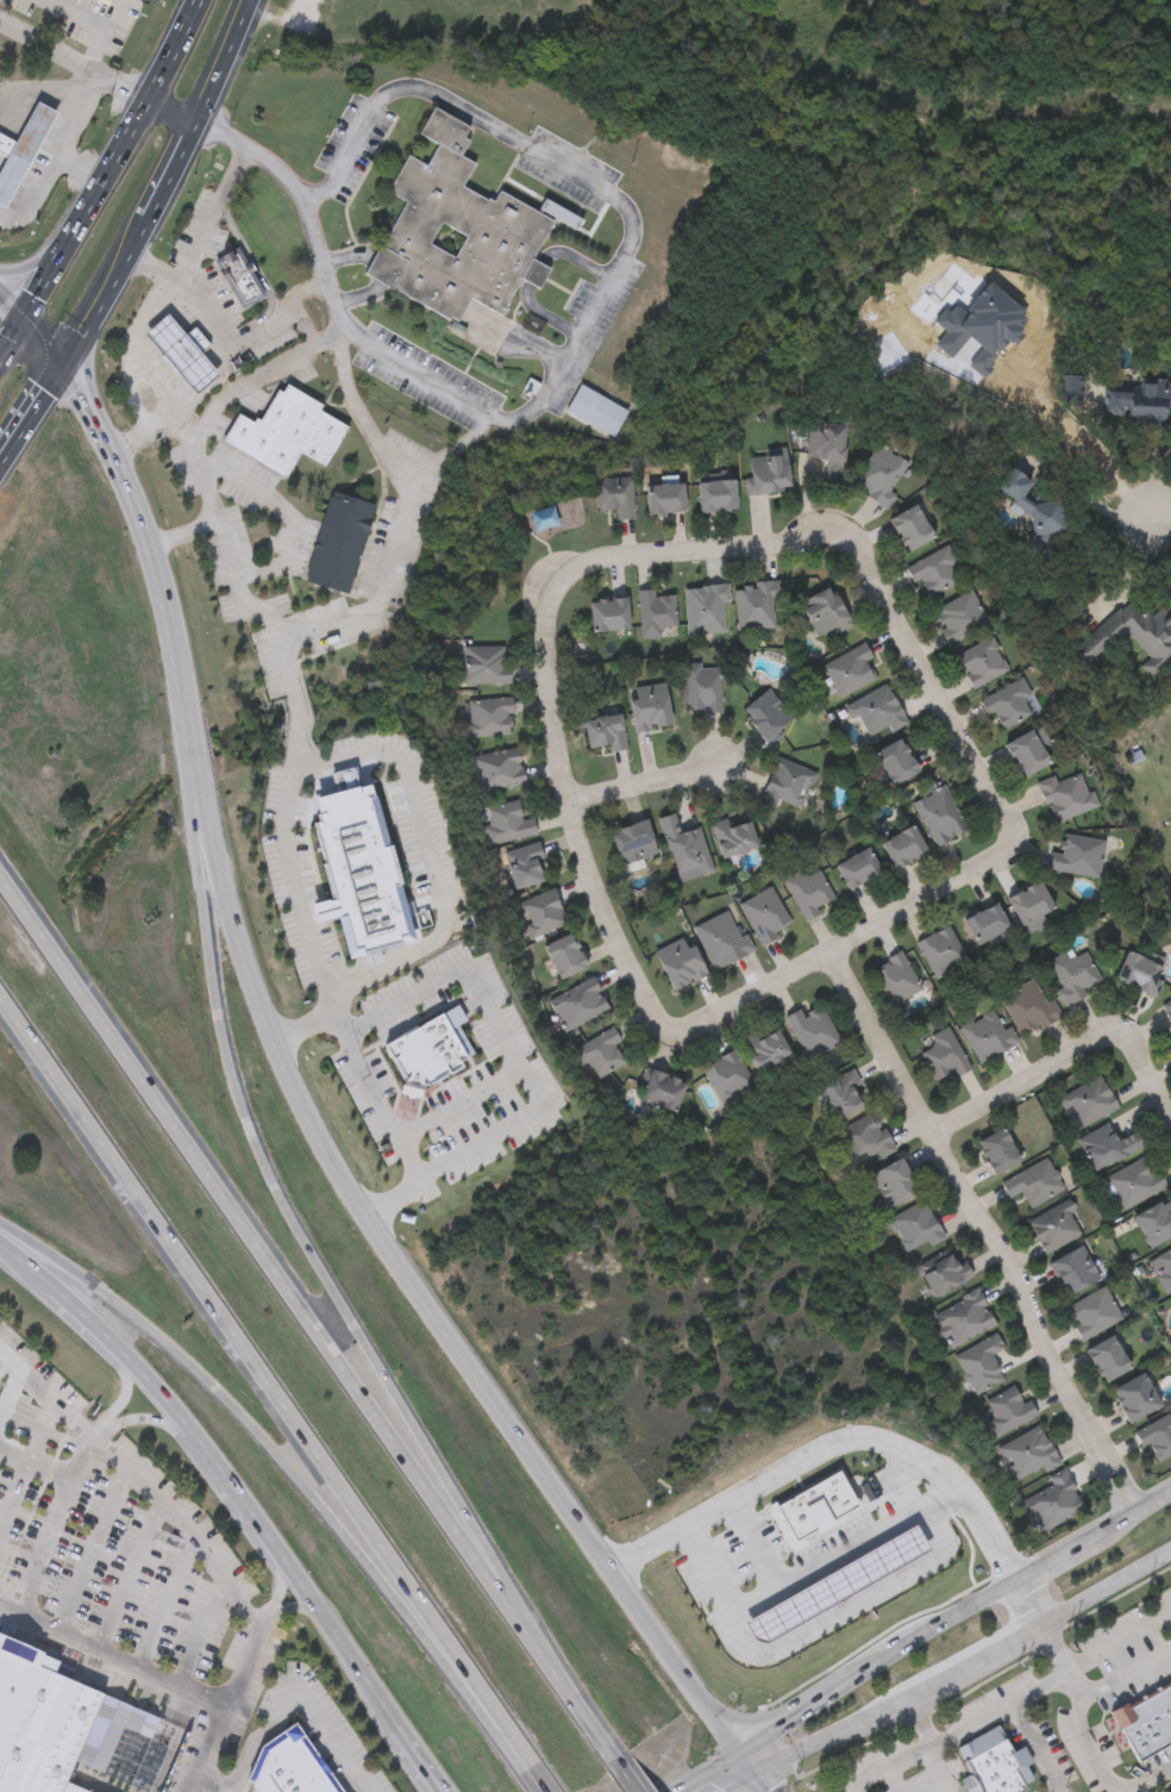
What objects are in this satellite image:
building: (421, 0)
building: (102, 1)
road: (98, 65)
road: (38, 96)
road: (68, 137)
building: (10, 151)
building: (23, 154)
gas station: (23, 154)
road: (112, 161)
road: (159, 185)
road: (32, 199)
building: (565, 218)
road: (632, 224)
building: (456, 231)
road: (38, 260)
building: (239, 275)
road: (11, 304)
traffic signals: (23, 318)
road: (223, 333)
road: (11, 335)
building: (183, 350)
traffic signals: (61, 363)
road: (86, 368)
road: (252, 374)
building: (1136, 401)
road: (30, 408)
building: (597, 412)
building: (287, 431)
road: (143, 433)
building: (827, 445)
road: (120, 467)
building: (766, 470)
building: (879, 472)
building: (614, 493)
building: (716, 493)
building: (665, 495)
road: (1087, 495)
building: (1034, 505)
building: (558, 514)
road: (289, 517)
road: (1159, 523)
building: (910, 525)
road: (183, 536)
building: (339, 541)
road: (644, 563)
building: (932, 568)
building: (754, 602)
building: (703, 606)
building: (824, 608)
building: (656, 611)
building: (608, 612)
building: (958, 613)
road: (337, 618)
building: (1131, 636)
building: (981, 660)
building: (484, 662)
building: (298, 667)
building: (848, 667)
building: (701, 685)
road: (302, 698)
building: (1007, 701)
building: (649, 704)
building: (875, 708)
building: (488, 713)
building: (766, 713)
building: (605, 730)
building: (1027, 750)
road: (389, 753)
building: (895, 760)
building: (494, 767)
building: (785, 781)
road: (649, 791)
building: (1065, 793)
building: (938, 814)
building: (505, 819)
building: (731, 835)
building: (681, 841)
building: (631, 842)
building: (903, 845)
building: (1077, 854)
building: (524, 863)
building: (858, 867)
building: (357, 868)
building: (806, 889)
building: (1029, 900)
building: (539, 911)
building: (763, 912)
building: (985, 920)
building: (719, 936)
building: (939, 949)
building: (563, 954)
building: (678, 960)
building: (1139, 970)
building: (1072, 973)
building: (894, 976)
building: (577, 1001)
building: (1028, 1006)
building: (1167, 1006)
road: (509, 1029)
building: (810, 1029)
building: (985, 1031)
building: (763, 1047)
building: (430, 1050)
building: (597, 1050)
building: (941, 1053)
road: (1069, 1063)
building: (725, 1073)
building: (658, 1087)
building: (841, 1091)
building: (1087, 1099)
road: (470, 1104)
road: (393, 1111)
building: (862, 1137)
building: (1107, 1143)
road: (261, 1147)
building: (997, 1148)
building: (1134, 1180)
building: (891, 1181)
building: (1032, 1181)
building: (1154, 1220)
building: (1053, 1223)
building: (913, 1225)
road: (985, 1235)
road: (255, 1237)
road: (393, 1251)
road: (27, 1266)
building: (1073, 1268)
building: (1161, 1268)
building: (941, 1270)
building: (1092, 1310)
road: (89, 1315)
building: (962, 1317)
building: (1108, 1356)
building: (979, 1361)
road: (251, 1362)
road: (6, 1366)
road: (15, 1380)
road: (162, 1381)
road: (120, 1392)
building: (1136, 1395)
road: (57, 1400)
building: (1007, 1409)
road: (143, 1419)
road: (42, 1429)
building: (1157, 1435)
road: (831, 1442)
road: (274, 1448)
building: (1027, 1451)
road: (35, 1462)
road: (245, 1488)
road: (14, 1494)
building: (1053, 1498)
building: (814, 1509)
road: (52, 1523)
road: (183, 1524)
road: (873, 1538)
road: (92, 1551)
road: (130, 1578)
building: (837, 1585)
gas station: (837, 1585)
road: (277, 1591)
road: (758, 1600)
road: (1032, 1601)
road: (167, 1604)
road: (850, 1605)
road: (288, 1609)
road: (952, 1618)
road: (201, 1632)
road: (1120, 1642)
road: (352, 1649)
road: (965, 1667)
road: (152, 1674)
road: (1062, 1674)
road: (1125, 1674)
building: (1170, 1677)
road: (565, 1678)
road: (295, 1687)
building: (40, 1721)
road: (922, 1721)
building: (1146, 1721)
road: (1083, 1735)
road: (522, 1742)
road: (929, 1746)
road: (1034, 1748)
road: (206, 1749)
traffic signals: (741, 1755)
building: (282, 1762)
building: (992, 1763)
road: (430, 1766)
road: (934, 1771)
road: (708, 1773)
road: (632, 1774)
traffic signals: (754, 1774)
road: (212, 1779)
building: (302, 1779)
road: (549, 1779)
road: (890, 1781)
road: (739, 1782)
road: (1150, 1784)
building: (326, 1787)
building: (1169, 1791)

